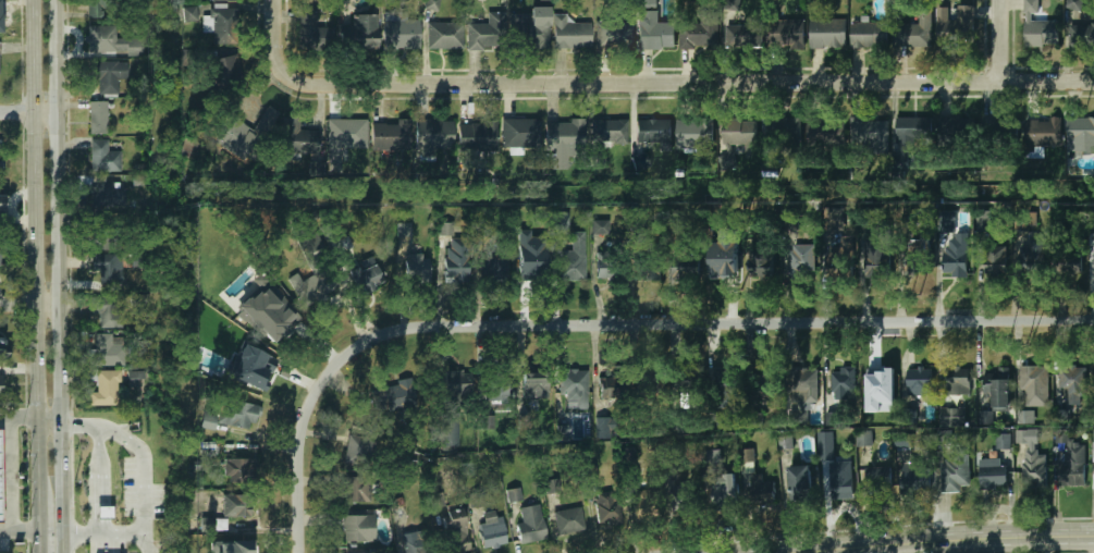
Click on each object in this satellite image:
building: (432, 4)
building: (1074, 4)
building: (729, 5)
building: (1030, 8)
building: (95, 9)
building: (188, 13)
building: (0, 16)
building: (955, 24)
building: (221, 25)
building: (309, 32)
building: (527, 32)
building: (827, 33)
building: (913, 33)
building: (1041, 33)
building: (358, 34)
building: (401, 34)
building: (569, 34)
building: (655, 34)
building: (869, 34)
building: (1082, 34)
building: (444, 35)
building: (699, 35)
building: (788, 35)
building: (483, 36)
building: (615, 36)
building: (742, 36)
road: (274, 39)
road: (1001, 40)
building: (111, 41)
building: (0, 67)
building: (224, 70)
building: (107, 76)
road: (690, 82)
road: (7, 111)
road: (33, 111)
building: (97, 118)
building: (988, 126)
building: (948, 127)
building: (1083, 130)
building: (607, 131)
building: (241, 133)
building: (519, 133)
building: (823, 133)
building: (909, 133)
building: (1042, 133)
building: (346, 134)
building: (390, 134)
building: (654, 134)
building: (692, 134)
building: (782, 134)
building: (740, 135)
building: (869, 135)
building: (432, 136)
building: (477, 136)
building: (564, 137)
building: (298, 138)
building: (1, 157)
building: (102, 157)
building: (640, 162)
building: (899, 162)
building: (2, 167)
building: (96, 192)
building: (2, 202)
building: (832, 216)
building: (561, 222)
building: (946, 222)
building: (1093, 223)
building: (601, 226)
building: (446, 229)
building: (404, 230)
building: (983, 230)
building: (102, 234)
building: (308, 241)
road: (33, 243)
building: (343, 244)
building: (0, 253)
building: (876, 257)
building: (915, 257)
building: (528, 258)
building: (838, 259)
building: (456, 260)
building: (1069, 260)
building: (993, 262)
building: (724, 263)
building: (954, 263)
building: (762, 265)
building: (794, 265)
building: (570, 266)
building: (685, 267)
building: (1033, 267)
building: (106, 268)
building: (417, 268)
building: (493, 268)
building: (609, 268)
building: (648, 268)
road: (53, 276)
building: (368, 279)
building: (314, 286)
road: (7, 303)
road: (34, 303)
building: (105, 310)
building: (271, 318)
road: (716, 321)
building: (1, 348)
building: (109, 349)
building: (251, 368)
building: (136, 379)
building: (957, 379)
building: (1070, 380)
building: (650, 381)
building: (919, 381)
building: (457, 382)
building: (683, 382)
building: (725, 382)
building: (843, 383)
building: (880, 383)
building: (571, 384)
building: (0, 385)
building: (764, 385)
building: (802, 385)
building: (1033, 385)
building: (103, 386)
building: (496, 386)
building: (533, 388)
building: (998, 389)
building: (612, 393)
building: (392, 396)
building: (229, 415)
building: (952, 417)
building: (985, 417)
building: (1027, 417)
building: (832, 418)
road: (19, 420)
road: (48, 422)
building: (487, 422)
building: (604, 427)
building: (451, 429)
building: (565, 431)
building: (944, 437)
building: (1060, 437)
building: (1034, 438)
building: (825, 439)
building: (862, 439)
building: (1004, 441)
building: (786, 442)
building: (1093, 445)
road: (300, 447)
building: (358, 450)
building: (748, 455)
building: (711, 456)
road: (142, 457)
building: (629, 459)
building: (1034, 468)
building: (241, 469)
building: (1073, 469)
building: (955, 471)
building: (993, 475)
road: (8, 478)
building: (914, 478)
road: (98, 479)
building: (877, 479)
building: (840, 482)
building: (799, 483)
road: (107, 490)
building: (357, 490)
road: (93, 491)
building: (760, 491)
building: (0, 492)
gas station: (0, 492)
building: (724, 493)
building: (514, 494)
building: (679, 495)
building: (437, 500)
building: (646, 504)
building: (236, 505)
building: (606, 507)
building: (105, 513)
road: (36, 518)
building: (568, 520)
building: (529, 523)
building: (214, 524)
road: (22, 528)
building: (357, 528)
road: (102, 531)
building: (492, 534)
building: (455, 536)
road: (943, 541)
building: (413, 545)
building: (239, 549)
building: (362, 552)

